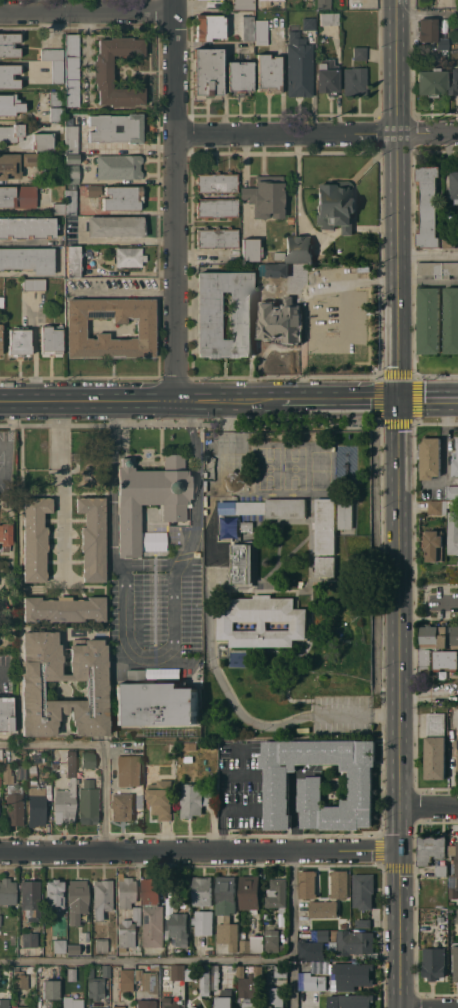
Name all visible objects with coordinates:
building: (214, 4)
building: (243, 4)
building: (323, 4)
building: (354, 4)
road: (75, 7)
road: (89, 13)
road: (428, 13)
building: (329, 18)
building: (308, 23)
building: (208, 26)
building: (455, 26)
building: (248, 27)
building: (427, 29)
building: (261, 32)
building: (442, 43)
building: (9, 44)
building: (359, 52)
building: (51, 54)
road: (87, 54)
building: (299, 67)
road: (398, 67)
building: (72, 69)
building: (57, 71)
building: (103, 71)
building: (207, 71)
building: (268, 73)
building: (9, 76)
building: (239, 76)
building: (327, 77)
building: (355, 80)
building: (454, 81)
building: (431, 82)
building: (10, 104)
building: (56, 105)
building: (131, 128)
building: (11, 132)
road: (428, 134)
road: (289, 135)
building: (71, 139)
building: (42, 141)
building: (72, 158)
building: (30, 159)
building: (9, 165)
building: (119, 166)
building: (72, 173)
building: (217, 182)
building: (454, 182)
building: (93, 190)
building: (18, 196)
building: (266, 196)
road: (399, 196)
building: (122, 197)
road: (178, 199)
building: (70, 201)
building: (336, 205)
building: (428, 206)
building: (216, 207)
building: (59, 208)
building: (290, 219)
building: (116, 226)
building: (28, 227)
building: (449, 235)
building: (217, 237)
building: (250, 249)
building: (299, 249)
building: (129, 256)
building: (278, 256)
road: (429, 257)
building: (28, 259)
building: (73, 261)
building: (430, 268)
building: (449, 269)
building: (276, 270)
building: (29, 284)
building: (40, 284)
road: (306, 299)
building: (1, 301)
building: (240, 315)
building: (281, 320)
building: (429, 320)
building: (451, 320)
building: (76, 328)
road: (400, 329)
building: (0, 338)
building: (51, 340)
building: (19, 341)
road: (135, 400)
road: (429, 400)
road: (335, 401)
traffic signals: (401, 401)
road: (11, 427)
building: (457, 442)
road: (447, 452)
building: (431, 457)
road: (5, 461)
building: (455, 466)
road: (196, 474)
road: (111, 479)
road: (59, 483)
building: (453, 492)
building: (150, 497)
road: (400, 500)
building: (451, 504)
building: (251, 507)
building: (438, 507)
building: (286, 508)
building: (346, 514)
building: (251, 517)
building: (247, 526)
building: (326, 526)
building: (454, 533)
building: (5, 537)
building: (93, 537)
building: (35, 538)
building: (153, 541)
building: (435, 545)
building: (243, 563)
building: (326, 566)
road: (447, 597)
building: (64, 608)
building: (263, 621)
building: (101, 628)
road: (158, 630)
building: (438, 636)
road: (212, 640)
building: (424, 657)
building: (446, 660)
building: (161, 673)
road: (2, 675)
building: (96, 685)
building: (154, 702)
building: (6, 714)
road: (107, 742)
building: (436, 747)
building: (40, 757)
building: (72, 758)
building: (88, 758)
building: (188, 759)
building: (457, 759)
building: (32, 769)
building: (21, 771)
building: (72, 771)
building: (129, 771)
building: (7, 772)
building: (319, 782)
road: (221, 787)
building: (161, 798)
building: (194, 799)
building: (65, 802)
building: (88, 802)
road: (400, 803)
building: (36, 805)
building: (124, 805)
road: (429, 806)
building: (14, 809)
building: (430, 849)
road: (200, 850)
building: (441, 870)
building: (456, 870)
building: (339, 884)
building: (307, 885)
building: (7, 891)
building: (126, 891)
building: (363, 891)
building: (250, 893)
building: (54, 894)
building: (77, 895)
building: (277, 895)
building: (102, 898)
building: (31, 899)
building: (202, 909)
building: (323, 909)
building: (227, 911)
building: (152, 913)
building: (455, 916)
building: (136, 919)
building: (0, 920)
building: (363, 923)
building: (178, 928)
road: (295, 928)
building: (126, 933)
building: (323, 935)
building: (29, 939)
building: (72, 939)
building: (272, 940)
building: (355, 942)
building: (251, 943)
building: (102, 945)
building: (60, 946)
building: (311, 950)
building: (434, 957)
road: (147, 959)
building: (455, 962)
building: (155, 967)
building: (319, 967)
building: (232, 968)
building: (90, 971)
building: (106, 971)
building: (281, 971)
building: (178, 972)
building: (71, 974)
building: (189, 975)
building: (351, 975)
building: (215, 977)
building: (20, 978)
building: (126, 979)
building: (306, 980)
building: (146, 981)
building: (228, 981)
building: (249, 981)
building: (205, 982)
building: (97, 987)
building: (50, 991)
building: (277, 997)
building: (225, 999)
building: (353, 1001)
building: (72, 1002)
building: (146, 1002)
building: (4, 1003)
building: (169, 1003)
building: (251, 1005)
building: (26, 1006)
building: (118, 1007)
building: (194, 1007)

